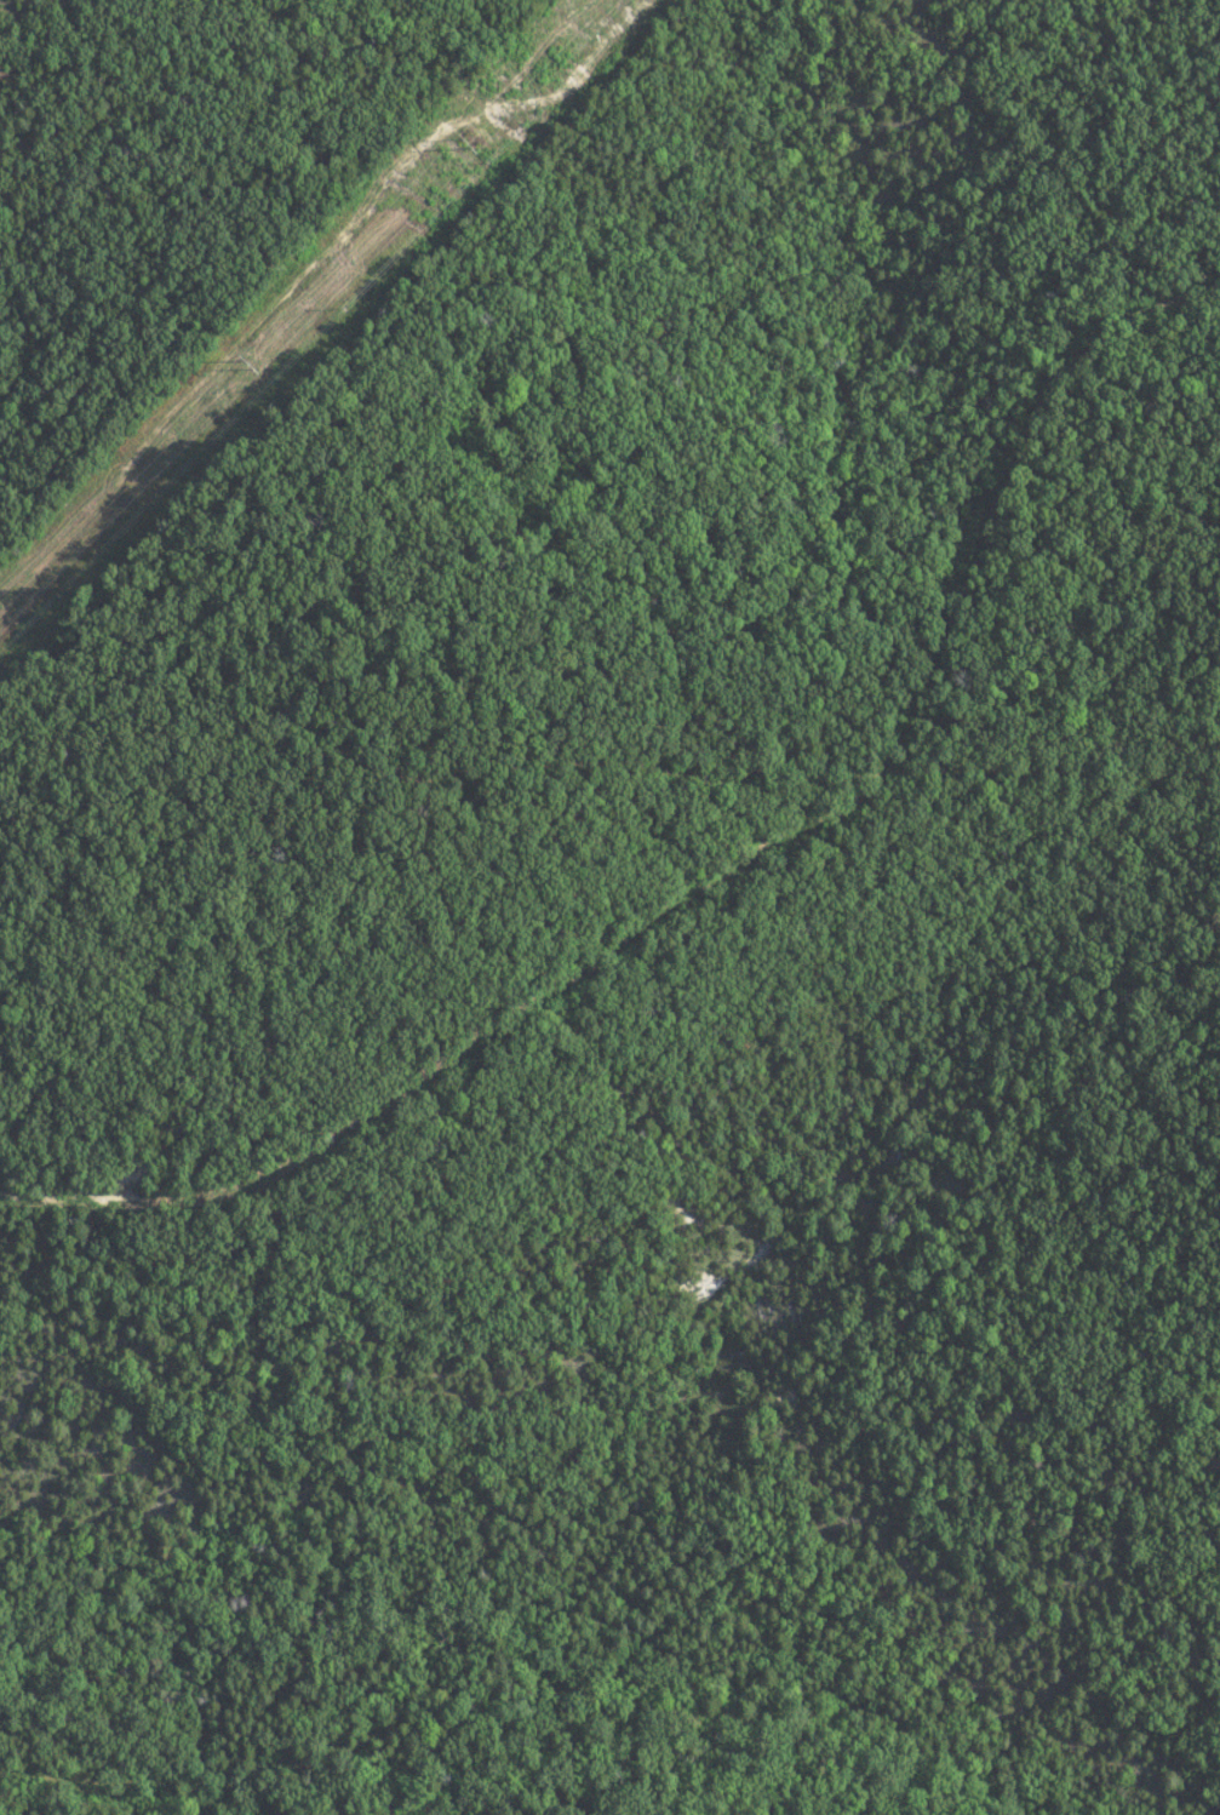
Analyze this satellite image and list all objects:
power tower: (464, 139)
power tower: (247, 362)

